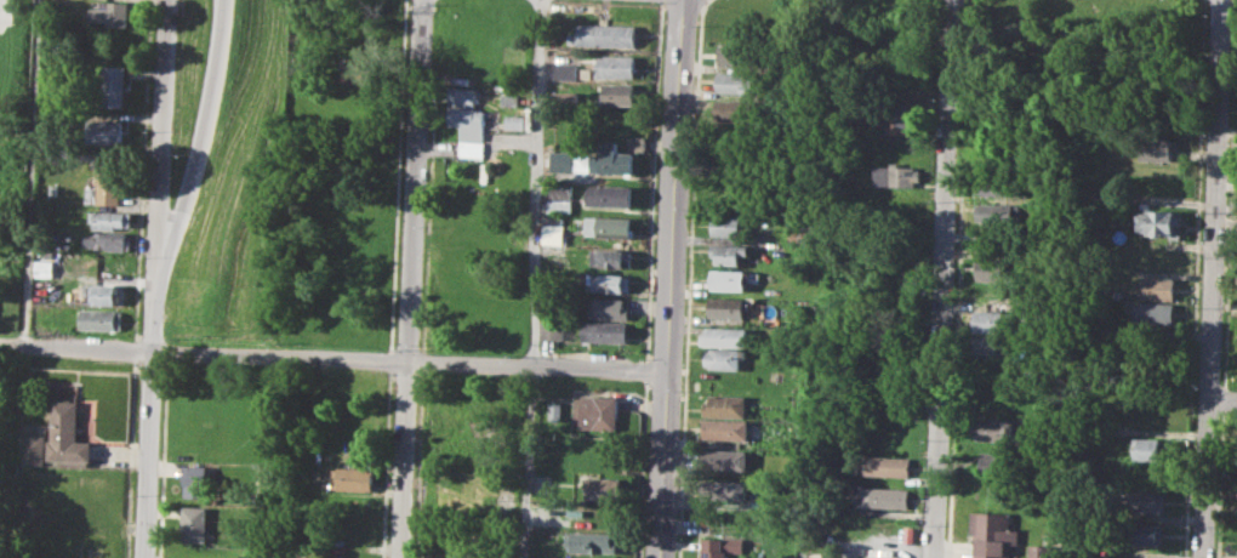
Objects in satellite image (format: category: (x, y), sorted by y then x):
building: (109, 13)
building: (605, 35)
building: (737, 55)
building: (617, 66)
building: (568, 70)
building: (736, 82)
building: (112, 85)
building: (621, 93)
building: (462, 96)
building: (512, 98)
building: (571, 99)
building: (735, 110)
building: (900, 118)
building: (468, 121)
building: (518, 123)
building: (106, 131)
road: (164, 138)
road: (200, 141)
building: (1159, 148)
building: (472, 149)
building: (610, 160)
building: (566, 161)
road: (30, 172)
building: (899, 175)
building: (106, 183)
building: (1008, 183)
road: (537, 184)
building: (53, 188)
building: (612, 194)
building: (563, 198)
building: (1001, 213)
building: (109, 218)
building: (1162, 222)
building: (611, 226)
building: (730, 226)
building: (555, 234)
building: (797, 235)
building: (107, 240)
building: (729, 254)
building: (612, 257)
building: (998, 268)
road: (669, 278)
building: (730, 278)
road: (945, 278)
road: (1215, 278)
road: (412, 279)
building: (610, 283)
building: (1157, 287)
building: (103, 294)
building: (609, 307)
building: (728, 307)
building: (1153, 313)
building: (101, 320)
building: (997, 321)
building: (554, 329)
building: (606, 331)
building: (726, 337)
building: (992, 346)
building: (724, 359)
road: (331, 361)
road: (1224, 398)
building: (726, 405)
building: (557, 410)
building: (597, 411)
road: (148, 417)
building: (994, 428)
building: (725, 429)
building: (890, 434)
building: (69, 435)
building: (1152, 448)
building: (34, 449)
building: (725, 459)
building: (996, 462)
road: (529, 463)
building: (888, 466)
building: (350, 478)
building: (195, 482)
building: (604, 488)
building: (724, 490)
building: (887, 497)
building: (1147, 501)
building: (914, 517)
building: (194, 523)
building: (994, 533)
building: (1146, 533)
building: (594, 541)
building: (720, 546)
building: (1043, 550)

